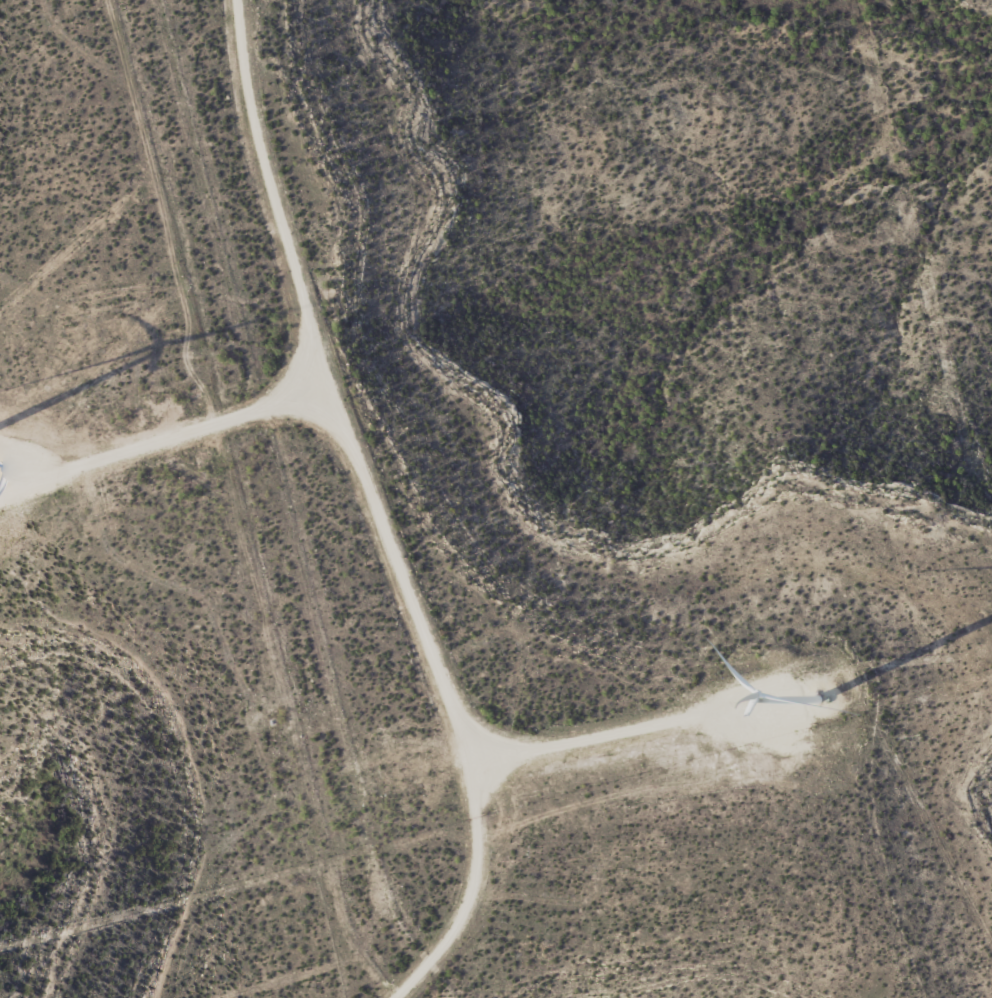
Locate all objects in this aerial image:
wind turbine: (799, 714)
road: (313, 841)

